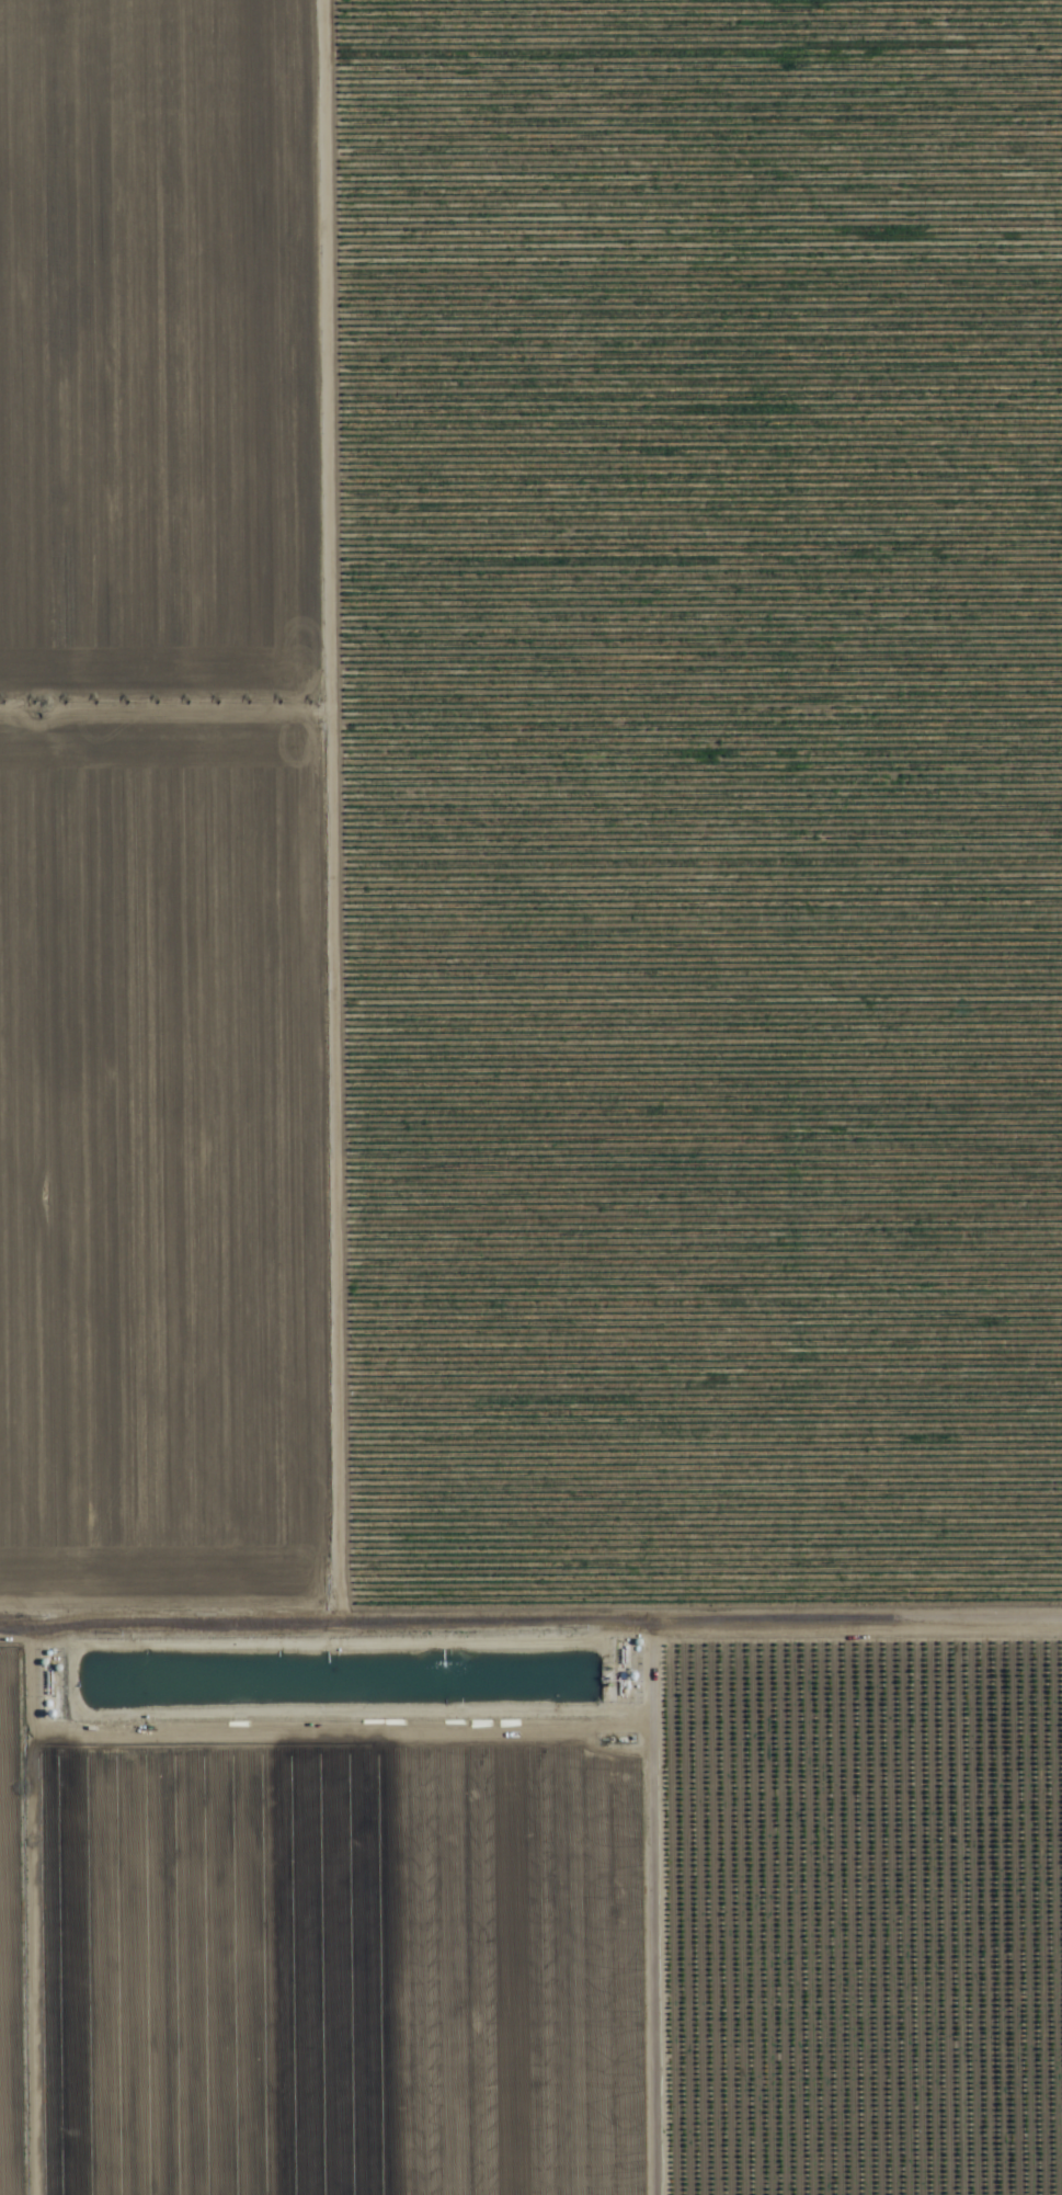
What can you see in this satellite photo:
crop: (530, 1097)
road: (530, 1600)
wastewater plant: (336, 1702)

